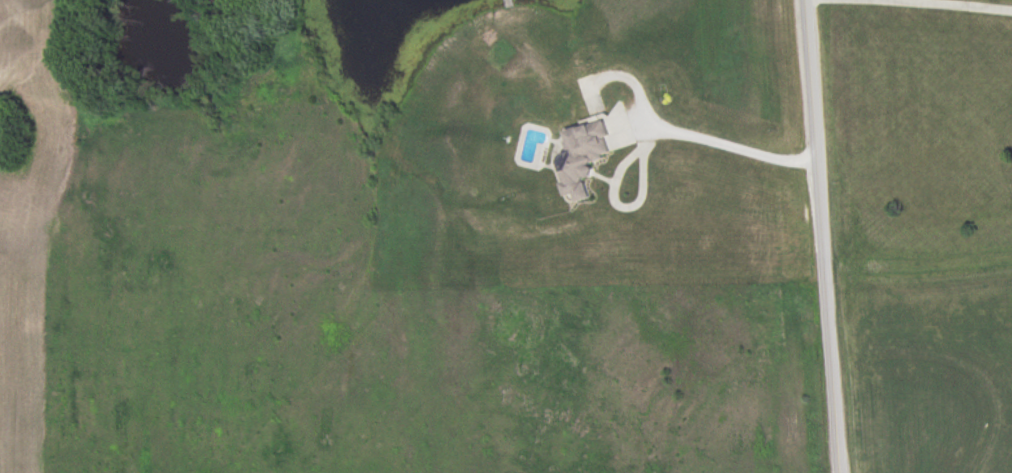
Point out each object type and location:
road: (967, 4)
road: (735, 147)
building: (584, 157)
road: (823, 236)

